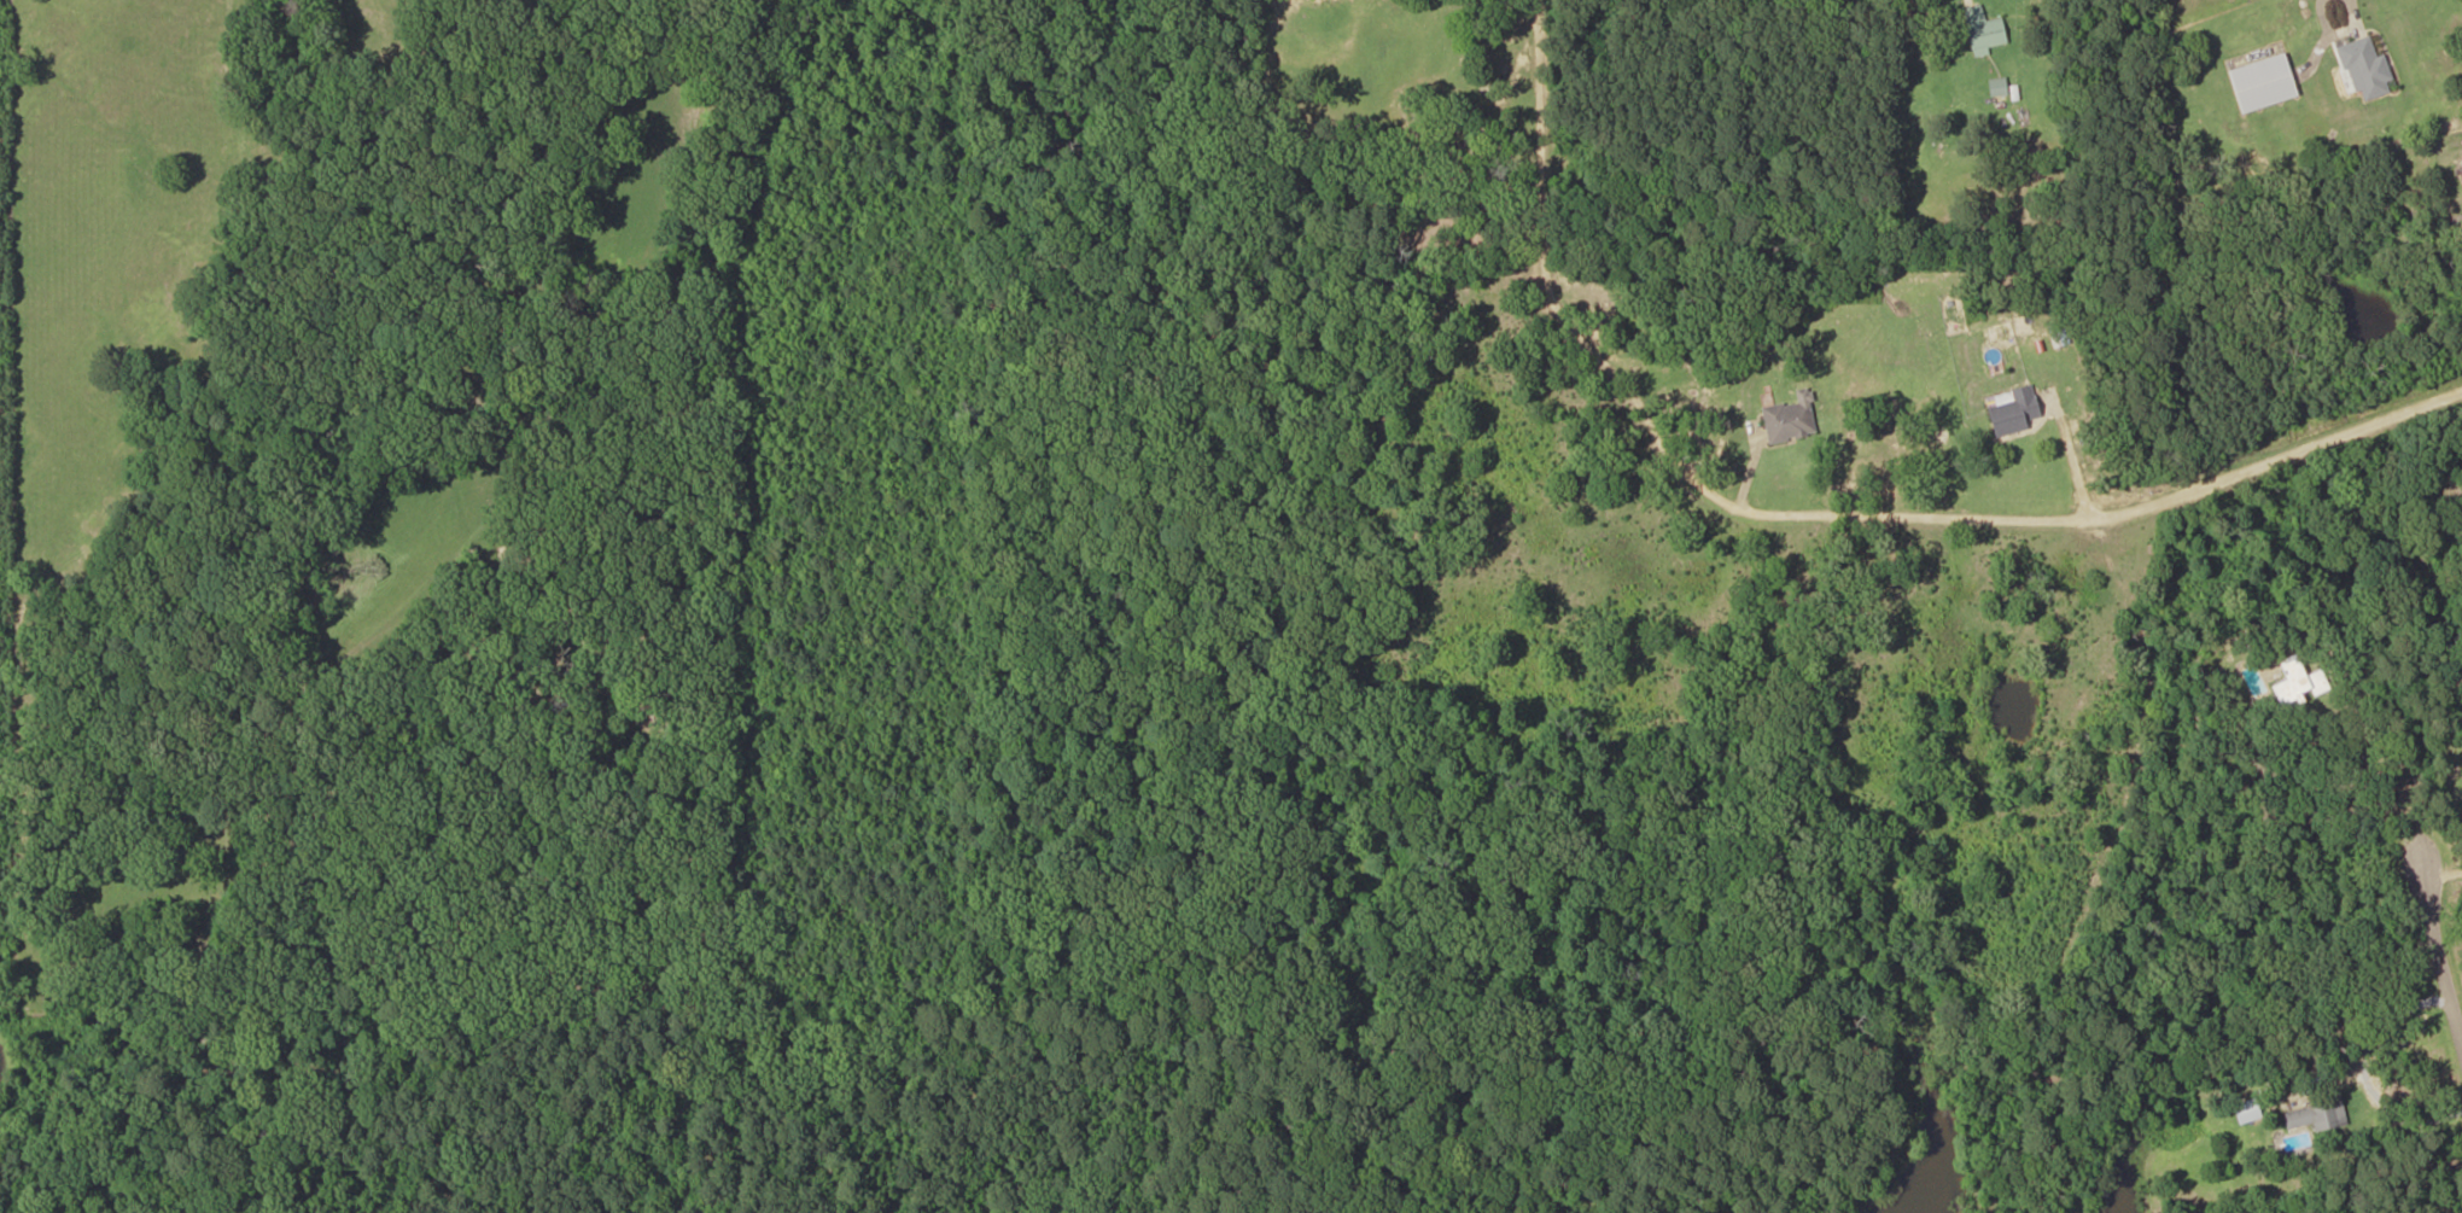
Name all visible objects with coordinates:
building: (1980, 30)
building: (2363, 68)
building: (2259, 82)
building: (1995, 86)
building: (2460, 173)
building: (2011, 410)
building: (1787, 418)
building: (2294, 682)
road: (2443, 947)
building: (2312, 1114)

